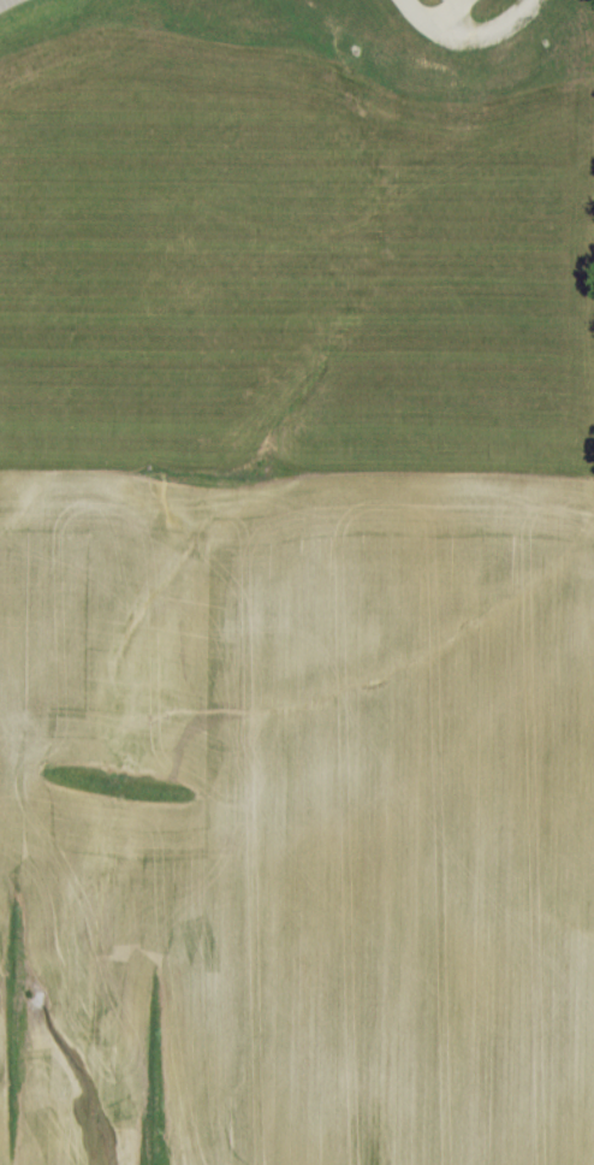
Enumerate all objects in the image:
parking lot: (8, 5)

